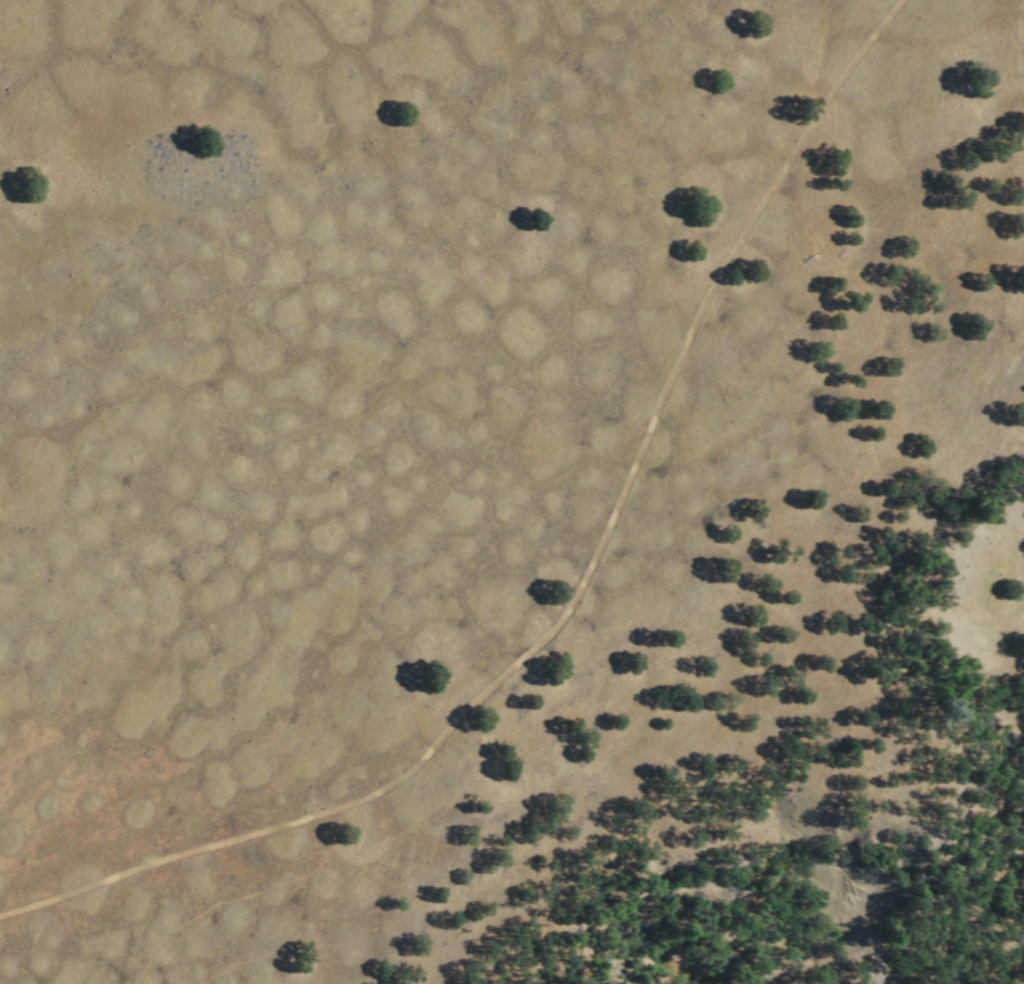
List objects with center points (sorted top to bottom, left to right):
road: (576, 594)

